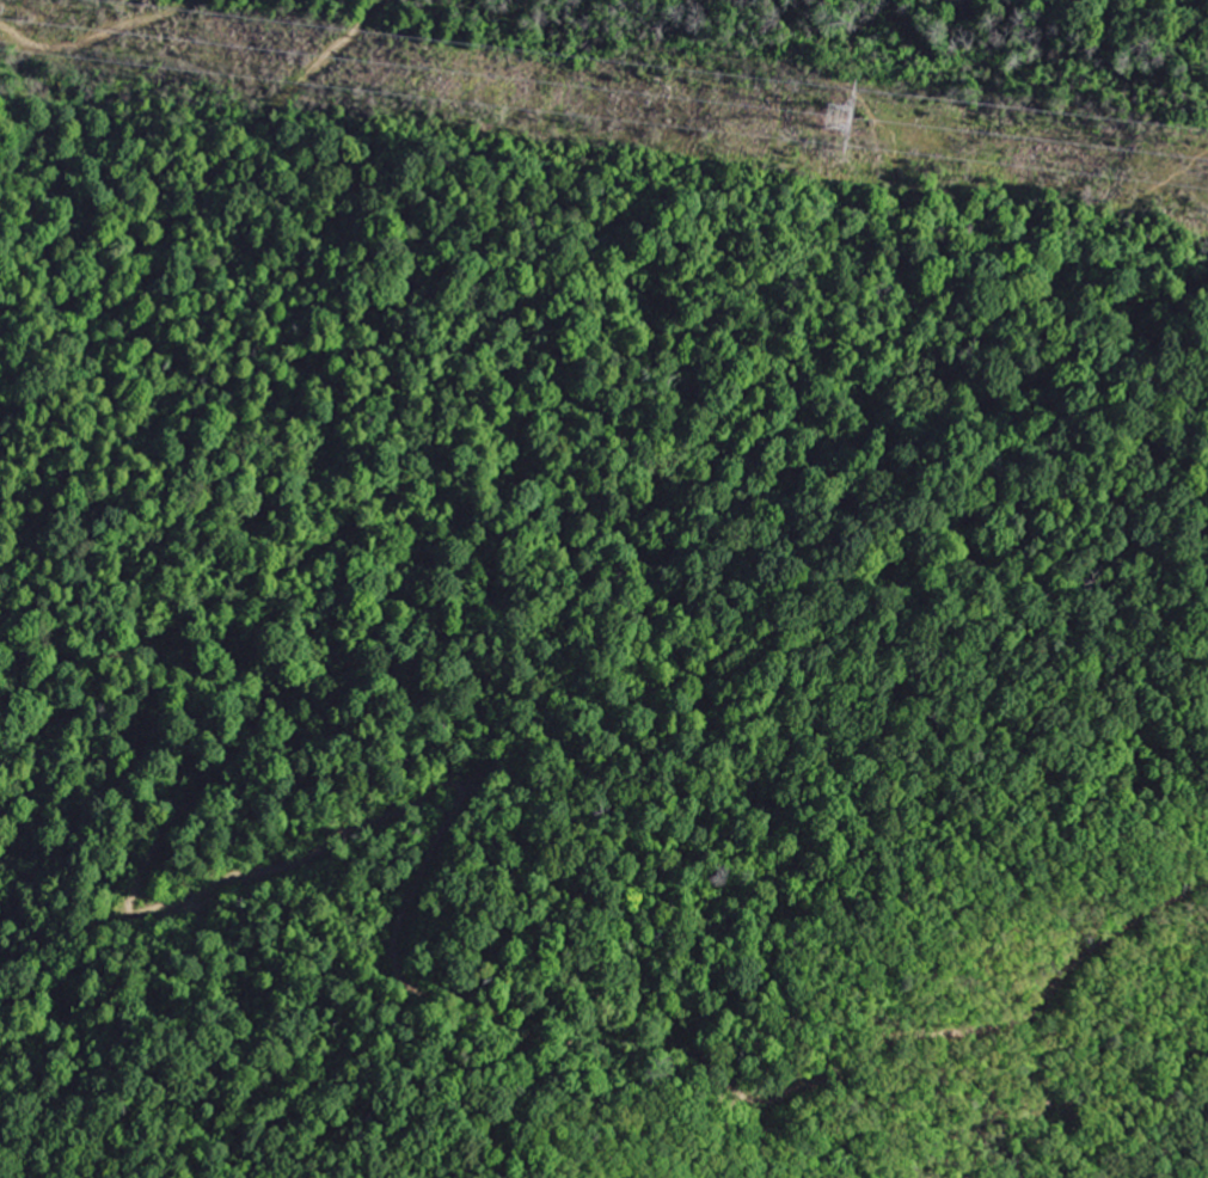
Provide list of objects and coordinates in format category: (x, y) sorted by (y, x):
power tower: (845, 113)

